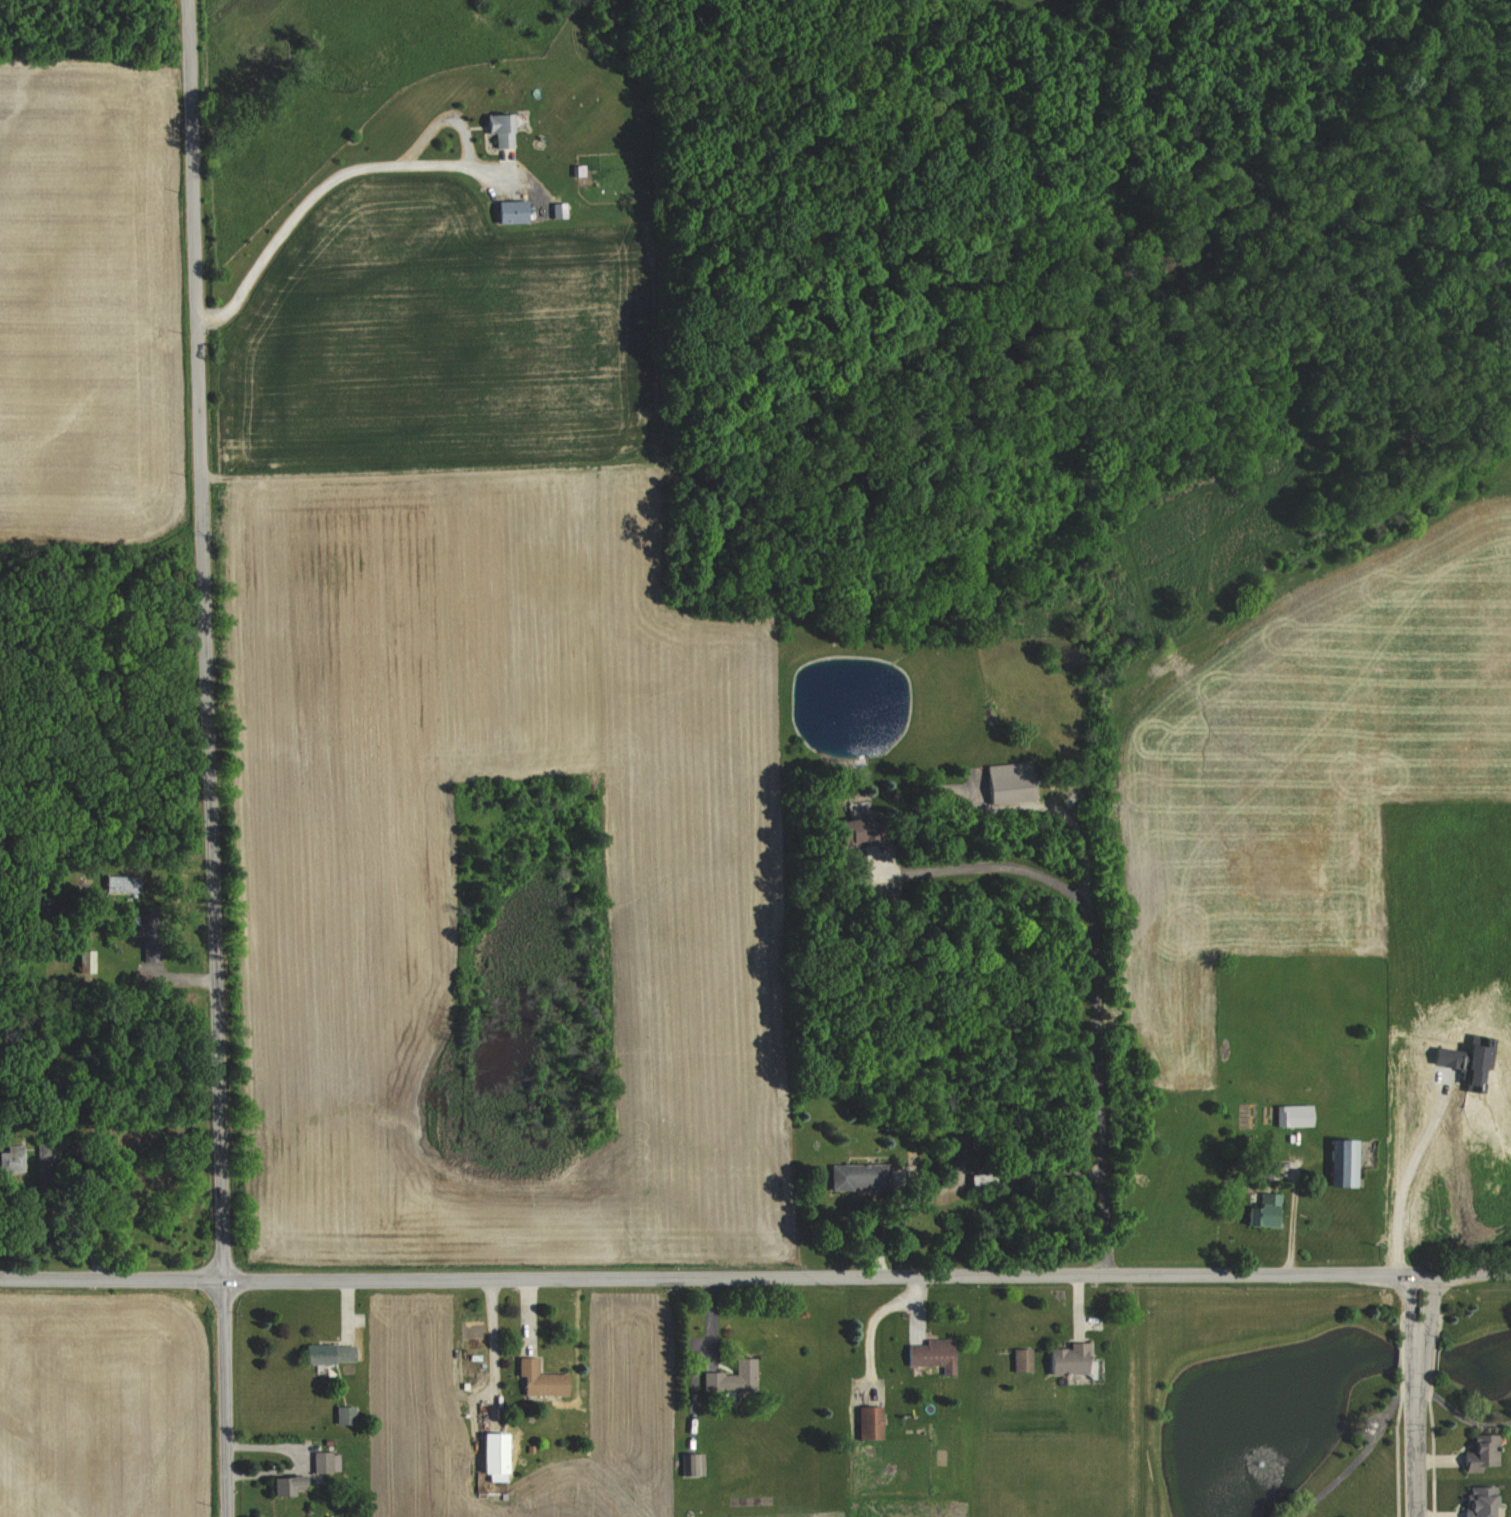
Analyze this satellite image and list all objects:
building: (495, 129)
road: (322, 188)
building: (508, 211)
road: (213, 758)
building: (1005, 782)
building: (849, 830)
building: (121, 883)
road: (1095, 982)
building: (1288, 1114)
building: (1336, 1161)
building: (1259, 1168)
building: (856, 1175)
building: (1261, 1210)
road: (1292, 1217)
road: (755, 1270)
road: (1407, 1314)
road: (1428, 1315)
road: (511, 1345)
building: (325, 1352)
building: (928, 1353)
building: (1018, 1358)
building: (1064, 1358)
building: (729, 1377)
building: (537, 1379)
building: (342, 1413)
building: (866, 1421)
road: (1414, 1438)
building: (1477, 1451)
building: (488, 1454)
building: (323, 1461)
building: (688, 1463)
building: (283, 1483)
building: (1475, 1501)

